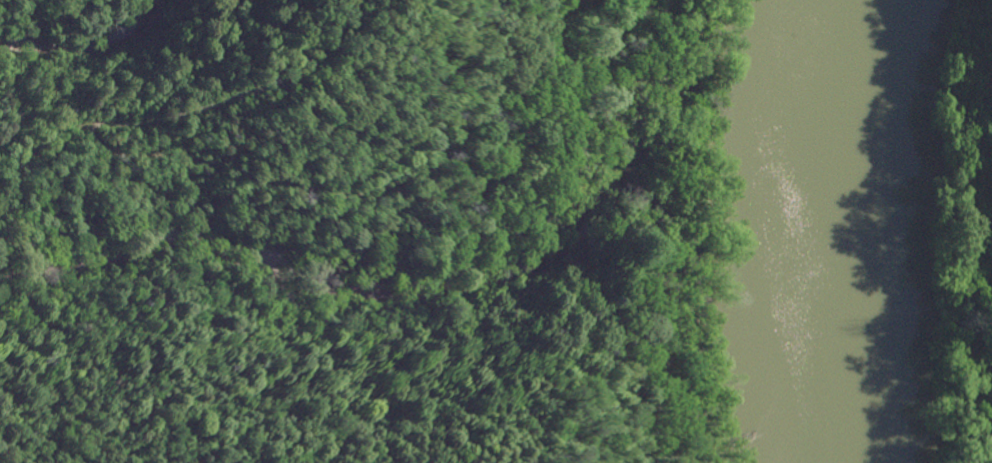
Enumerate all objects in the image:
river: (846, 232)

